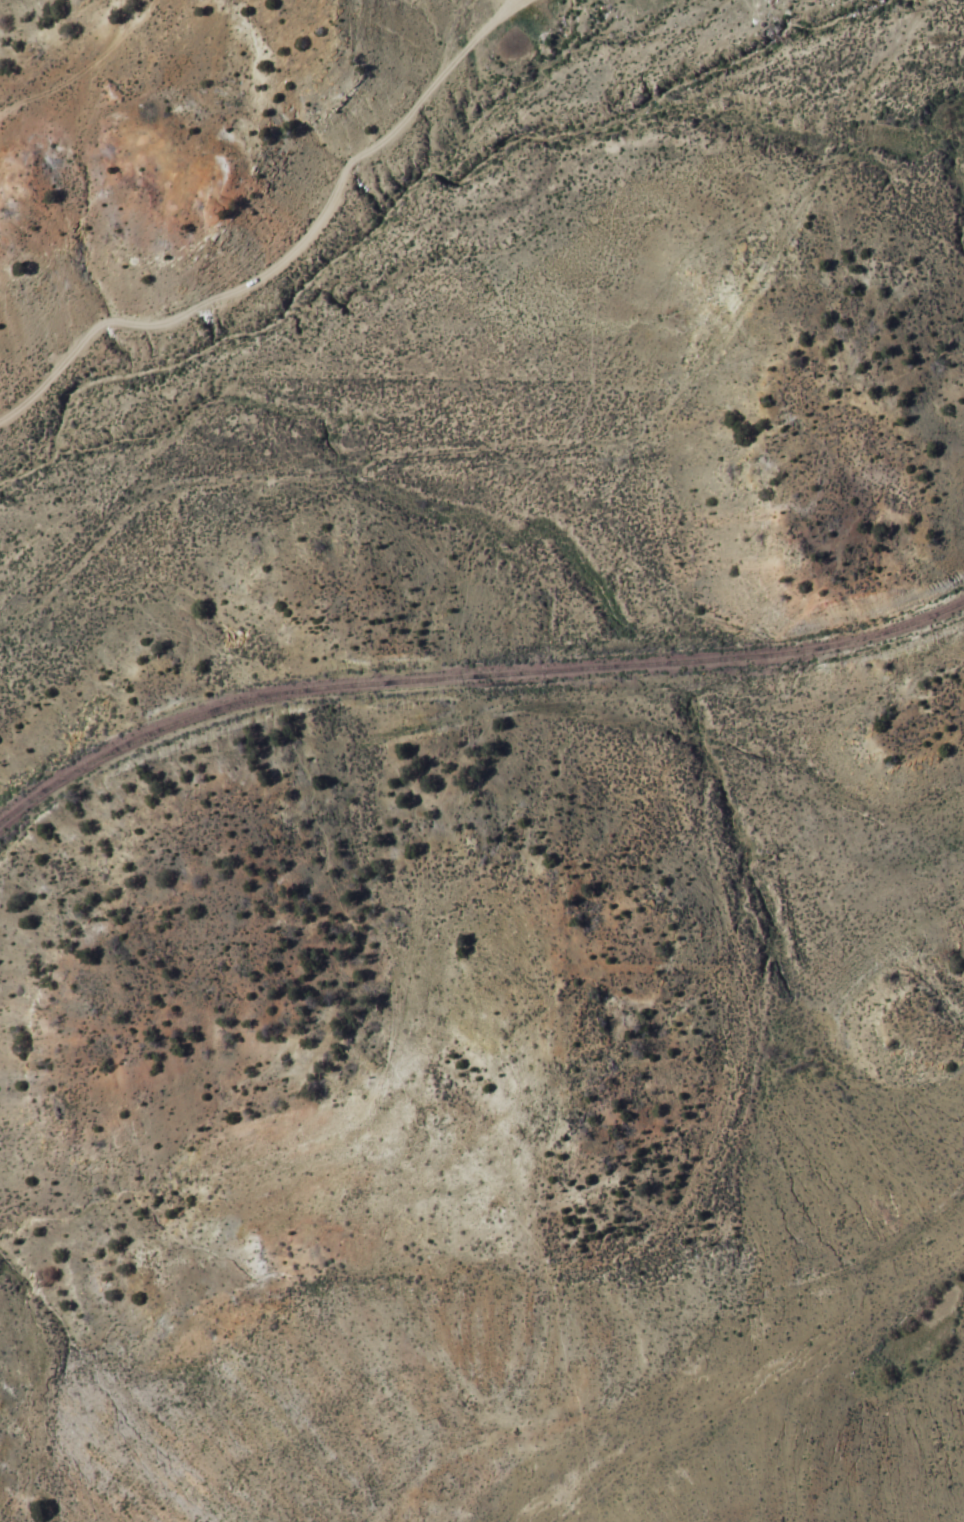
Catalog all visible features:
road: (259, 249)
railway: (469, 676)

